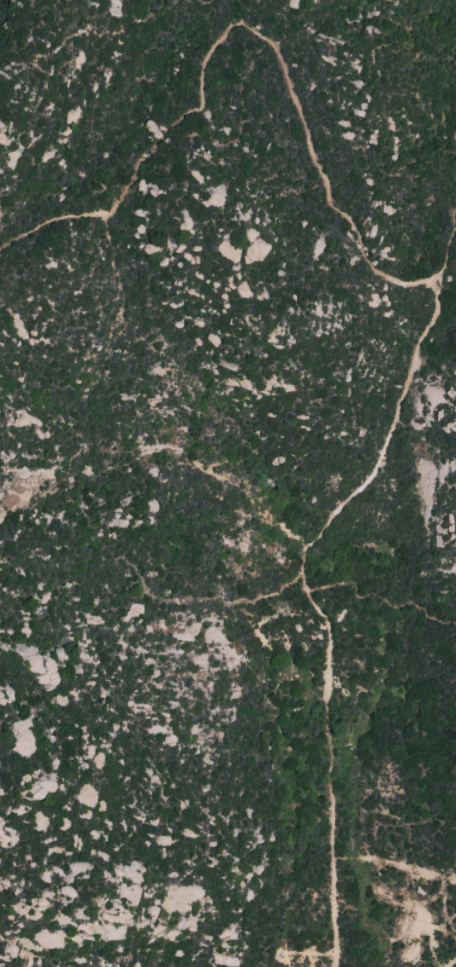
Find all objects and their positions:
road: (435, 299)

